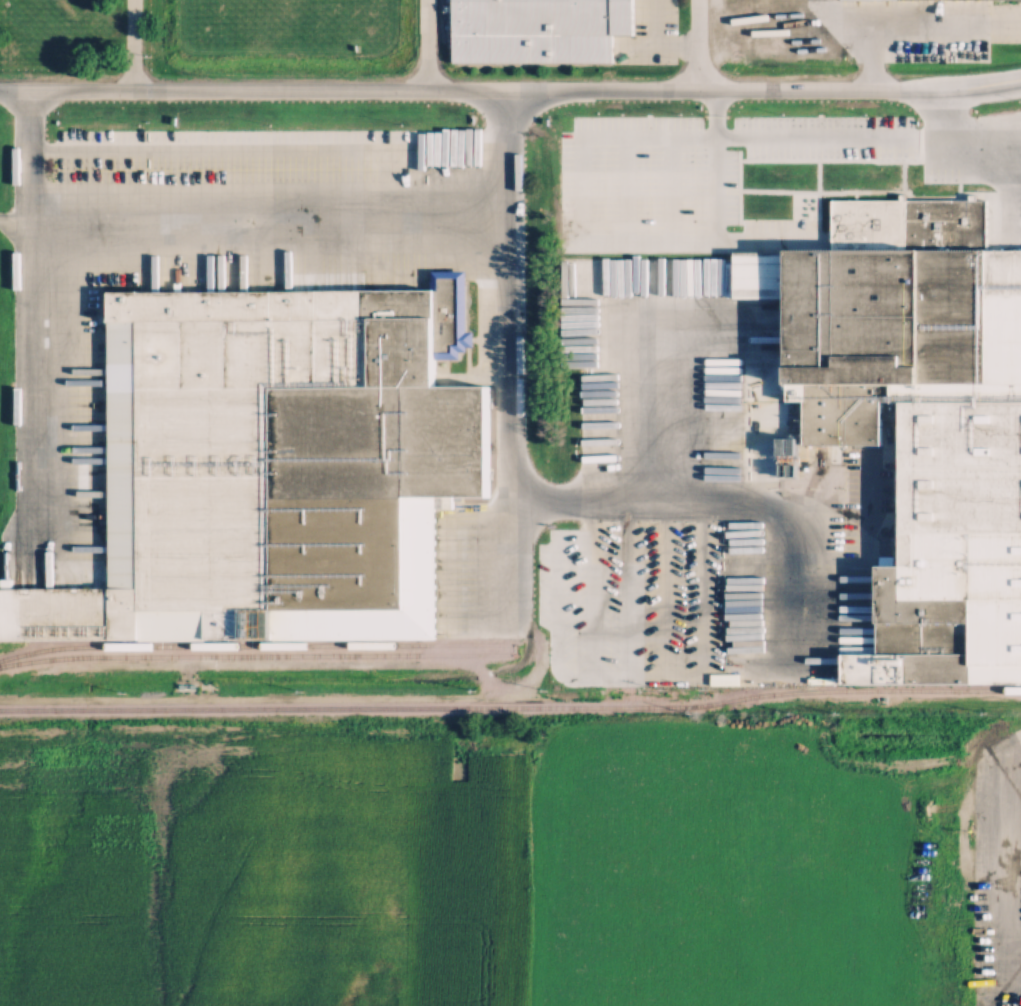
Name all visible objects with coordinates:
road: (910, 20)
building: (536, 29)
road: (423, 45)
road: (696, 45)
road: (129, 47)
road: (510, 90)
road: (960, 144)
road: (347, 159)
road: (713, 224)
road: (264, 227)
road: (26, 332)
road: (590, 332)
road: (504, 360)
building: (917, 412)
building: (277, 465)
road: (771, 497)
railway: (255, 641)
road: (1010, 856)

